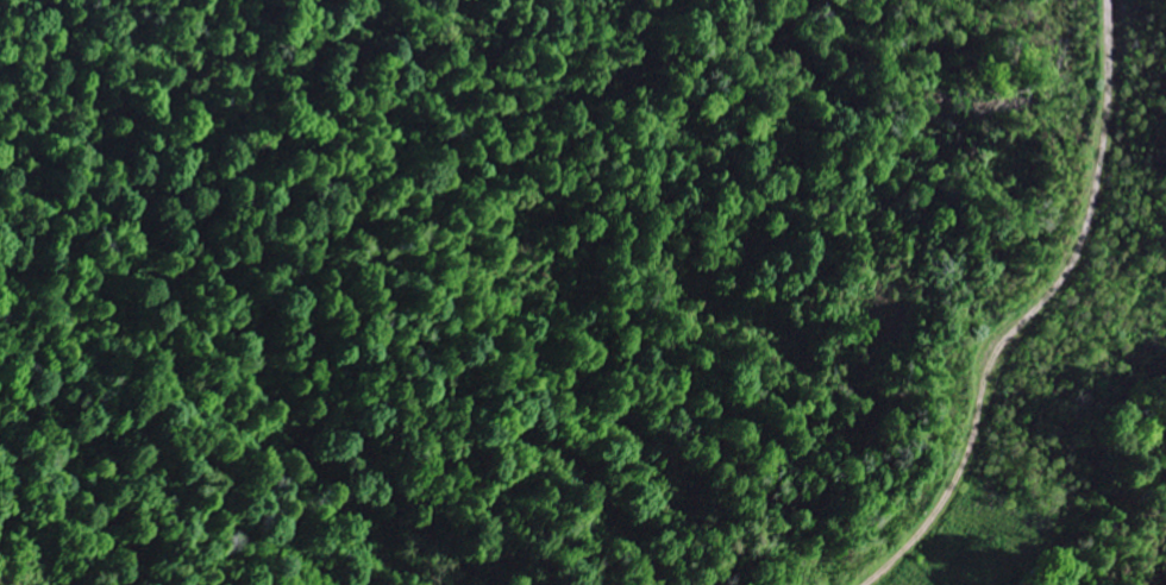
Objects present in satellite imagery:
road: (1028, 423)

